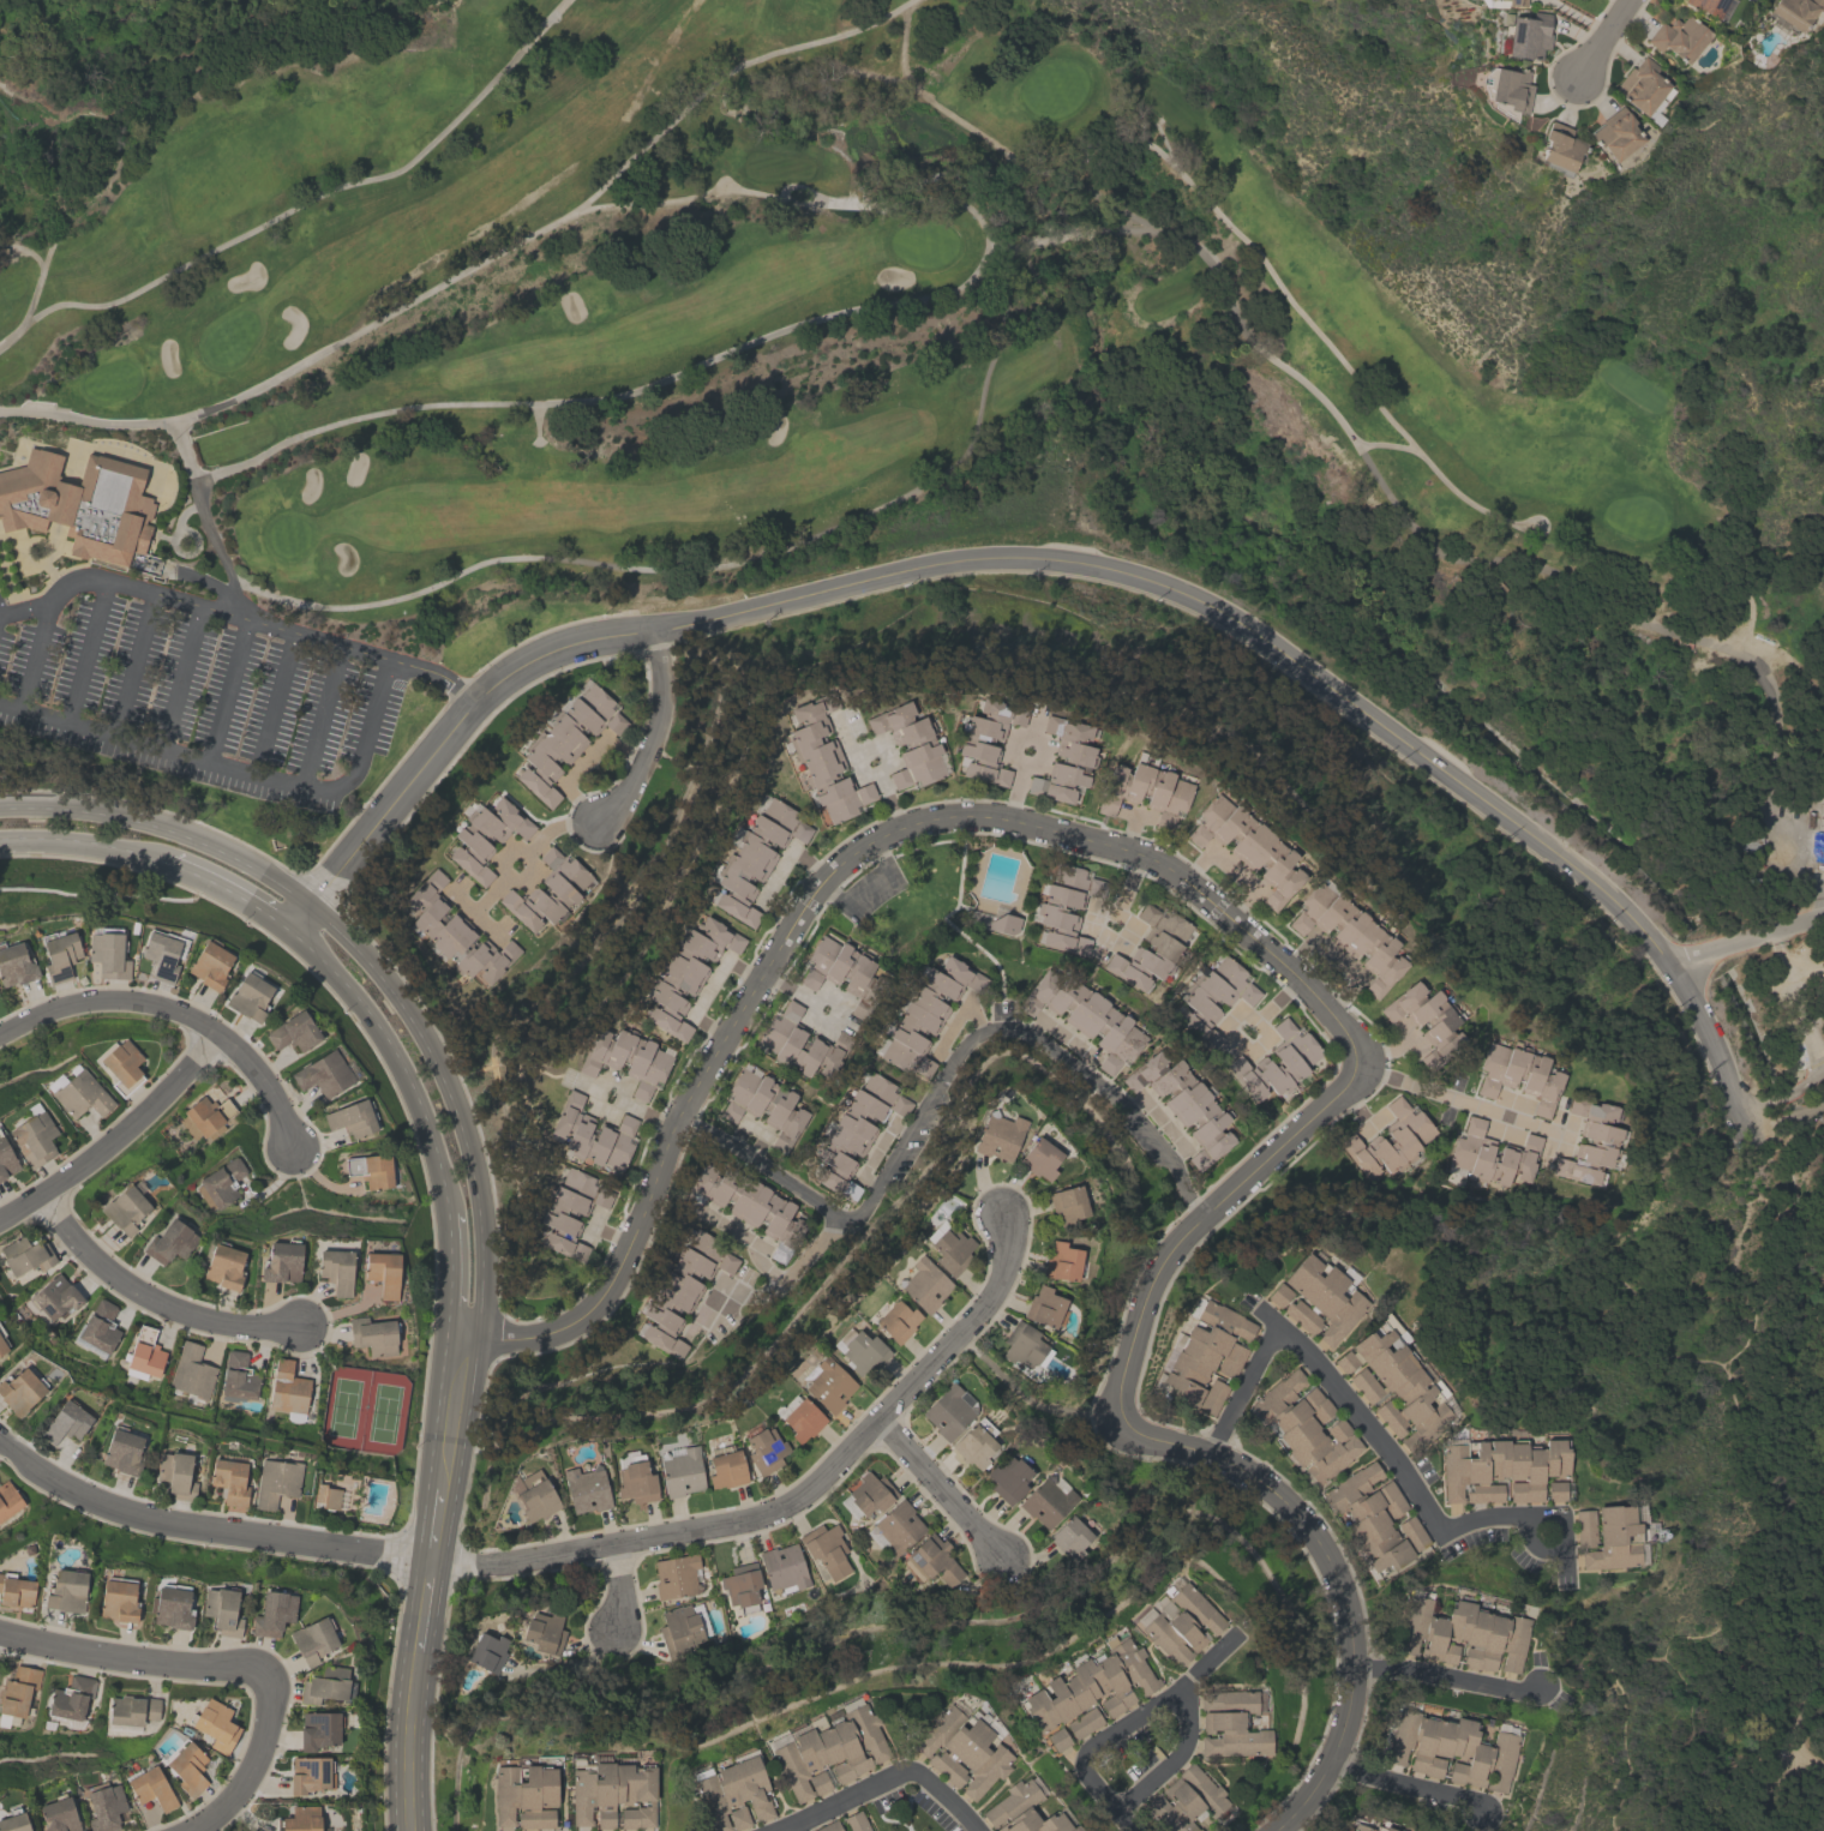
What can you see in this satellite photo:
building: (1514, 2)
building: (1708, 7)
building: (1794, 12)
building: (1529, 37)
building: (1678, 38)
road: (1607, 40)
building: (1643, 90)
building: (1506, 91)
building: (1615, 136)
building: (1559, 150)
road: (313, 196)
road: (680, 196)
road: (24, 248)
road: (476, 262)
road: (31, 296)
road: (1235, 306)
park: (760, 308)
road: (1332, 348)
road: (580, 401)
road: (1387, 444)
building: (80, 505)
road: (204, 518)
road: (780, 548)
road: (239, 617)
road: (88, 652)
road: (35, 655)
road: (132, 662)
road: (1298, 666)
road: (179, 676)
parking lot: (196, 686)
road: (227, 689)
road: (275, 702)
road: (322, 715)
road: (652, 733)
road: (449, 734)
building: (565, 739)
building: (985, 743)
building: (908, 749)
road: (1013, 761)
road: (581, 763)
building: (823, 763)
building: (1064, 766)
road: (236, 767)
park: (78, 770)
road: (869, 774)
road: (1016, 791)
building: (1146, 794)
road: (889, 799)
road: (96, 802)
road: (1138, 814)
road: (1132, 832)
building: (486, 835)
road: (84, 841)
building: (1247, 848)
building: (755, 856)
road: (527, 858)
road: (254, 860)
road: (830, 869)
road: (1234, 869)
road: (776, 872)
road: (230, 890)
building: (547, 892)
road: (488, 894)
building: (1051, 908)
road: (473, 912)
building: (1004, 924)
building: (455, 930)
road: (1128, 933)
building: (1349, 937)
road: (1747, 942)
building: (1164, 948)
road: (1782, 954)
building: (106, 955)
building: (162, 956)
building: (59, 957)
road: (1337, 957)
building: (836, 966)
building: (209, 967)
building: (14, 968)
building: (685, 972)
road: (706, 986)
road: (840, 993)
building: (248, 998)
building: (1211, 998)
road: (109, 999)
road: (1790, 1008)
building: (925, 1014)
building: (1086, 1015)
road: (955, 1019)
building: (1427, 1023)
building: (293, 1034)
road: (1067, 1034)
road: (1410, 1037)
road: (428, 1041)
building: (799, 1043)
road: (1258, 1049)
road: (1384, 1049)
building: (628, 1057)
road: (395, 1059)
building: (1276, 1062)
building: (120, 1067)
building: (323, 1076)
building: (1519, 1077)
road: (1087, 1079)
road: (264, 1089)
road: (1783, 1095)
building: (80, 1097)
road: (1460, 1100)
building: (1183, 1101)
building: (764, 1105)
road: (614, 1107)
road: (646, 1112)
building: (204, 1115)
building: (352, 1121)
road: (1787, 1122)
road: (1162, 1124)
road: (754, 1127)
road: (113, 1131)
building: (592, 1131)
building: (854, 1133)
building: (998, 1134)
road: (1566, 1135)
road: (1793, 1136)
building: (34, 1139)
building: (1390, 1140)
building: (1590, 1143)
road: (875, 1149)
building: (1492, 1154)
building: (1039, 1157)
building: (6, 1163)
building: (371, 1171)
building: (220, 1183)
building: (1067, 1203)
building: (750, 1205)
building: (125, 1207)
building: (570, 1209)
road: (835, 1217)
road: (590, 1221)
road: (734, 1227)
road: (610, 1232)
building: (169, 1241)
building: (950, 1248)
building: (25, 1253)
building: (1061, 1259)
building: (281, 1260)
building: (223, 1263)
building: (336, 1268)
road: (792, 1268)
building: (383, 1271)
road: (481, 1280)
road: (448, 1281)
road: (732, 1281)
building: (924, 1283)
building: (680, 1290)
building: (55, 1296)
building: (1320, 1296)
road: (149, 1298)
building: (1044, 1304)
building: (896, 1319)
building: (100, 1326)
building: (373, 1334)
building: (2, 1344)
building: (1024, 1344)
building: (863, 1349)
building: (1205, 1350)
building: (143, 1353)
building: (191, 1371)
building: (238, 1375)
building: (827, 1381)
building: (1396, 1382)
building: (20, 1388)
road: (1241, 1388)
building: (288, 1391)
building: (1212, 1397)
building: (949, 1411)
road: (454, 1417)
building: (802, 1417)
building: (65, 1421)
building: (1306, 1425)
park: (1702, 1441)
building: (974, 1443)
road: (1170, 1443)
building: (764, 1447)
building: (122, 1449)
building: (726, 1467)
building: (1501, 1469)
building: (682, 1470)
building: (175, 1473)
building: (636, 1478)
building: (229, 1479)
building: (1008, 1479)
building: (276, 1481)
road: (940, 1485)
building: (586, 1487)
road: (1415, 1489)
building: (1555, 1490)
building: (536, 1494)
building: (866, 1494)
building: (326, 1495)
road: (796, 1497)
building: (8, 1499)
building: (1046, 1502)
building: (1372, 1517)
road: (440, 1525)
building: (896, 1526)
building: (1585, 1527)
road: (208, 1532)
building: (1412, 1532)
building: (1069, 1537)
building: (1614, 1537)
road: (1534, 1545)
building: (826, 1548)
building: (932, 1560)
building: (782, 1567)
building: (676, 1575)
building: (742, 1585)
road: (619, 1589)
building: (16, 1590)
building: (66, 1590)
building: (118, 1597)
road: (426, 1604)
building: (170, 1605)
building: (222, 1610)
building: (272, 1611)
building: (1178, 1620)
building: (682, 1627)
building: (544, 1632)
building: (1462, 1633)
building: (313, 1638)
building: (487, 1650)
road: (1211, 1655)
road: (130, 1657)
road: (566, 1667)
road: (1792, 1668)
road: (414, 1676)
road: (1446, 1677)
building: (326, 1683)
building: (1090, 1687)
building: (17, 1692)
road: (1170, 1692)
building: (71, 1697)
building: (132, 1709)
building: (1084, 1722)
building: (215, 1723)
building: (1230, 1724)
building: (318, 1729)
building: (828, 1747)
building: (961, 1748)
building: (1453, 1748)
building: (187, 1765)
road: (253, 1766)
road: (408, 1767)
building: (310, 1773)
road: (882, 1781)
road: (1408, 1784)
building: (151, 1787)
building: (733, 1791)
building: (613, 1793)
building: (524, 1794)
building: (1184, 1799)
building: (104, 1805)
building: (1021, 1811)
building: (58, 1814)
building: (300, 1819)
road: (1123, 1820)
building: (13, 1821)
building: (854, 1821)
building: (827, 1826)
building: (1360, 1826)
building: (1382, 1827)

